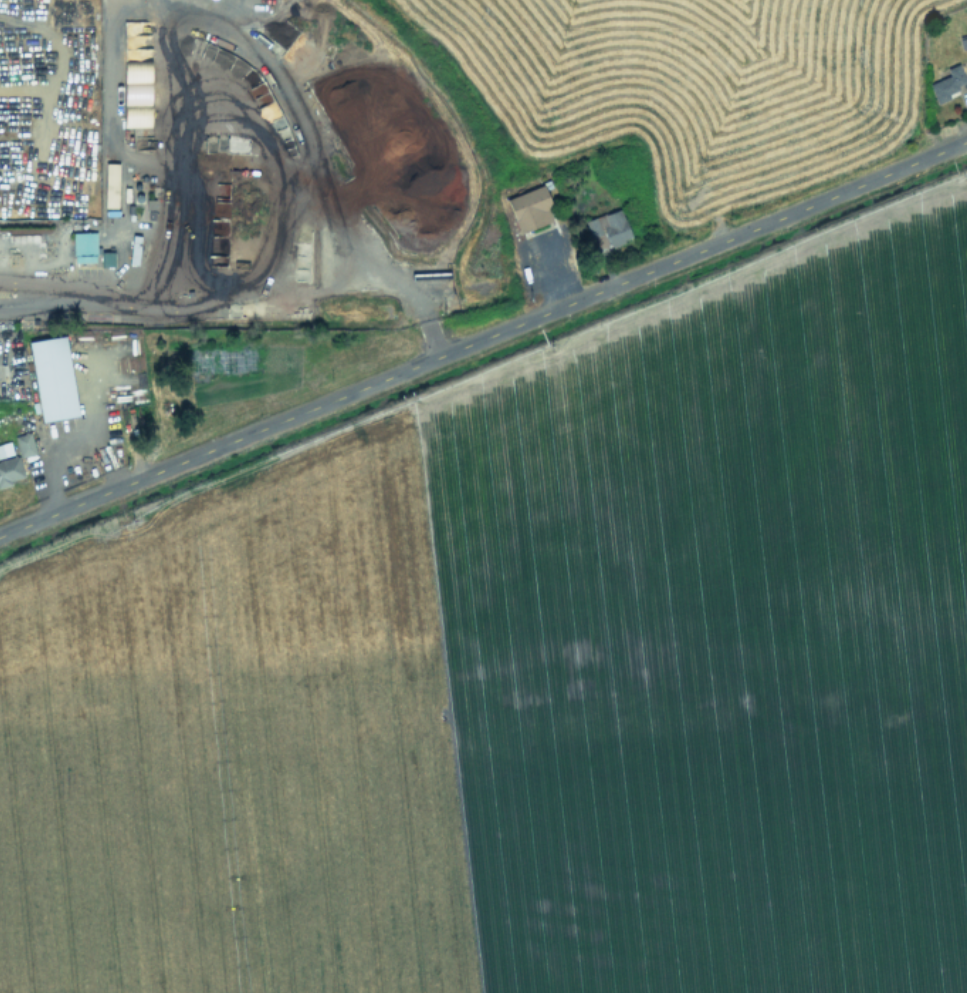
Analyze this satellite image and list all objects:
building: (947, 83)
building: (137, 93)
crop: (423, 149)
building: (110, 185)
building: (530, 208)
building: (608, 229)
building: (84, 246)
building: (106, 258)
road: (87, 299)
road: (483, 337)
building: (53, 378)
building: (24, 444)
building: (5, 449)
building: (9, 471)
crop: (536, 674)

